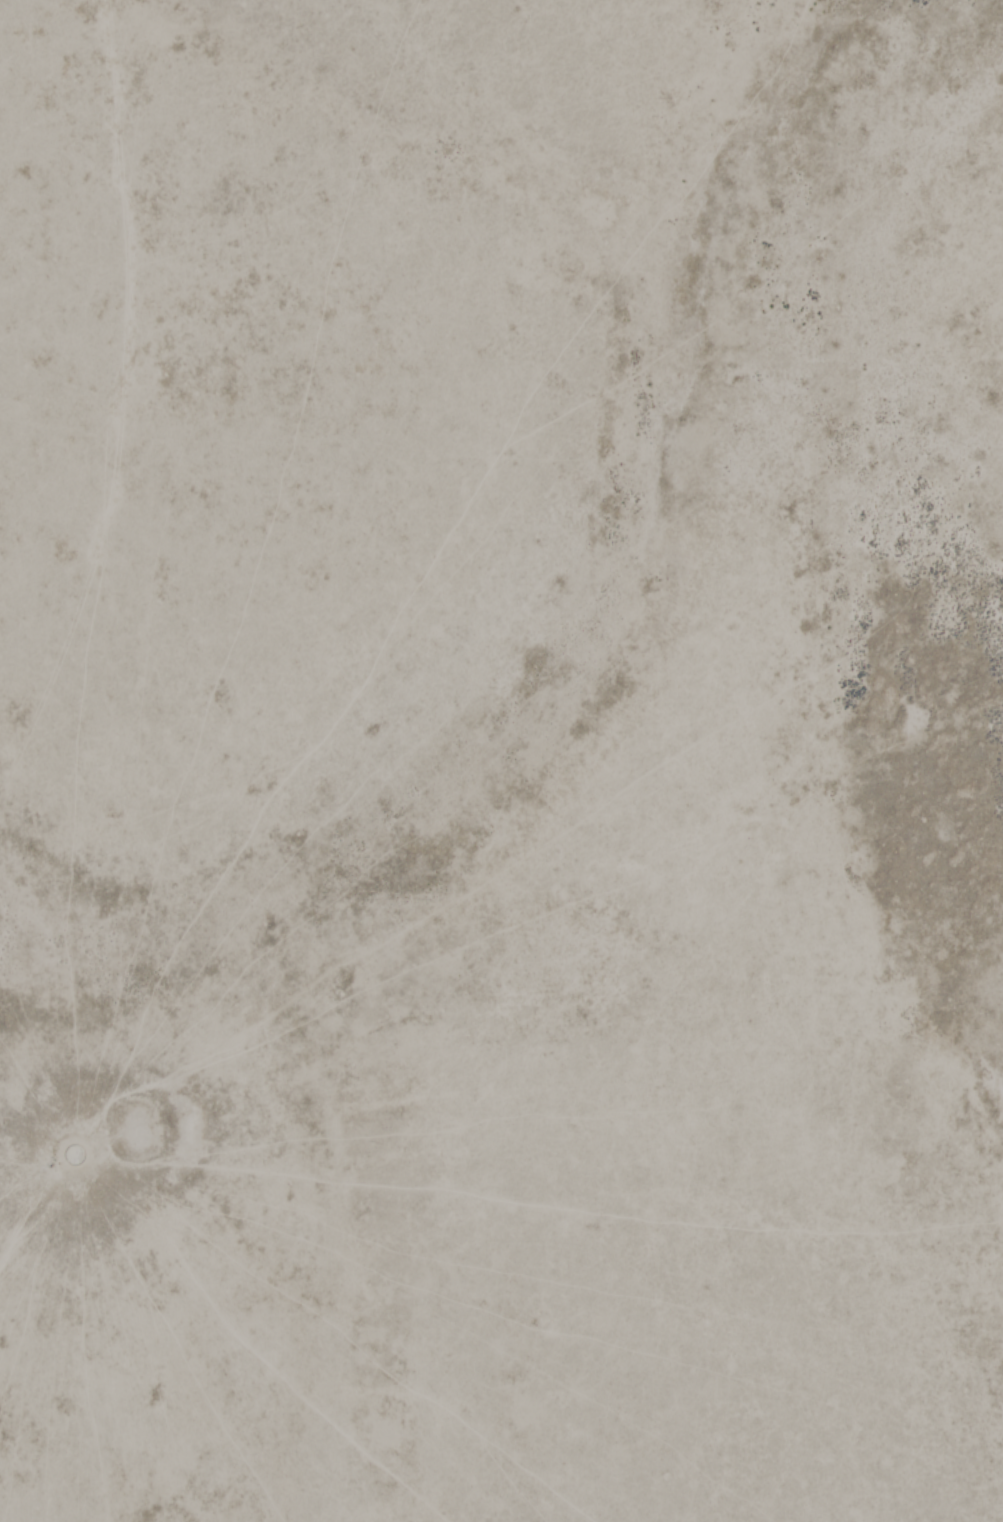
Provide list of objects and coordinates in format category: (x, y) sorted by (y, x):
building: (72, 1154)
storage tank: (72, 1154)

